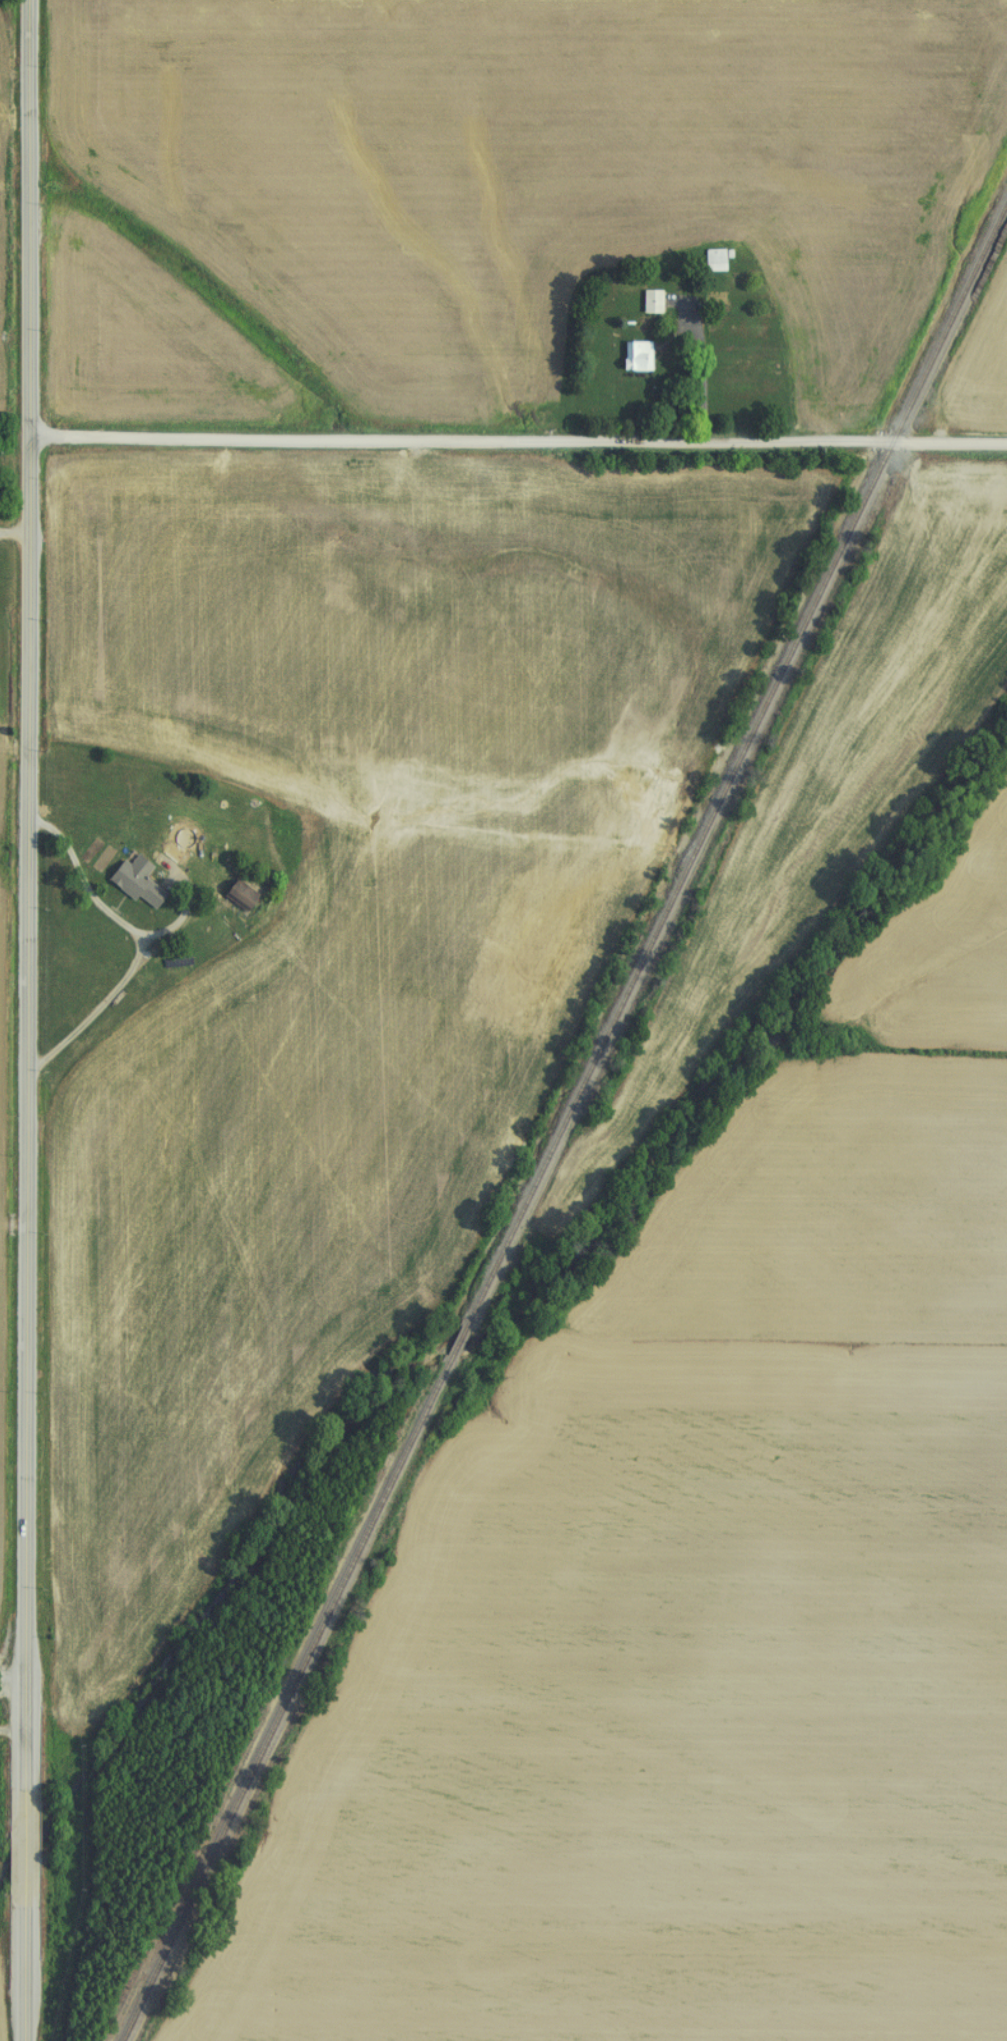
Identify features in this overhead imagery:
building: (710, 260)
building: (647, 302)
building: (633, 356)
road: (704, 371)
road: (518, 442)
road: (15, 533)
railway: (735, 757)
building: (131, 882)
road: (26, 1020)
railway: (453, 1341)
road: (14, 1678)
railway: (282, 1702)

